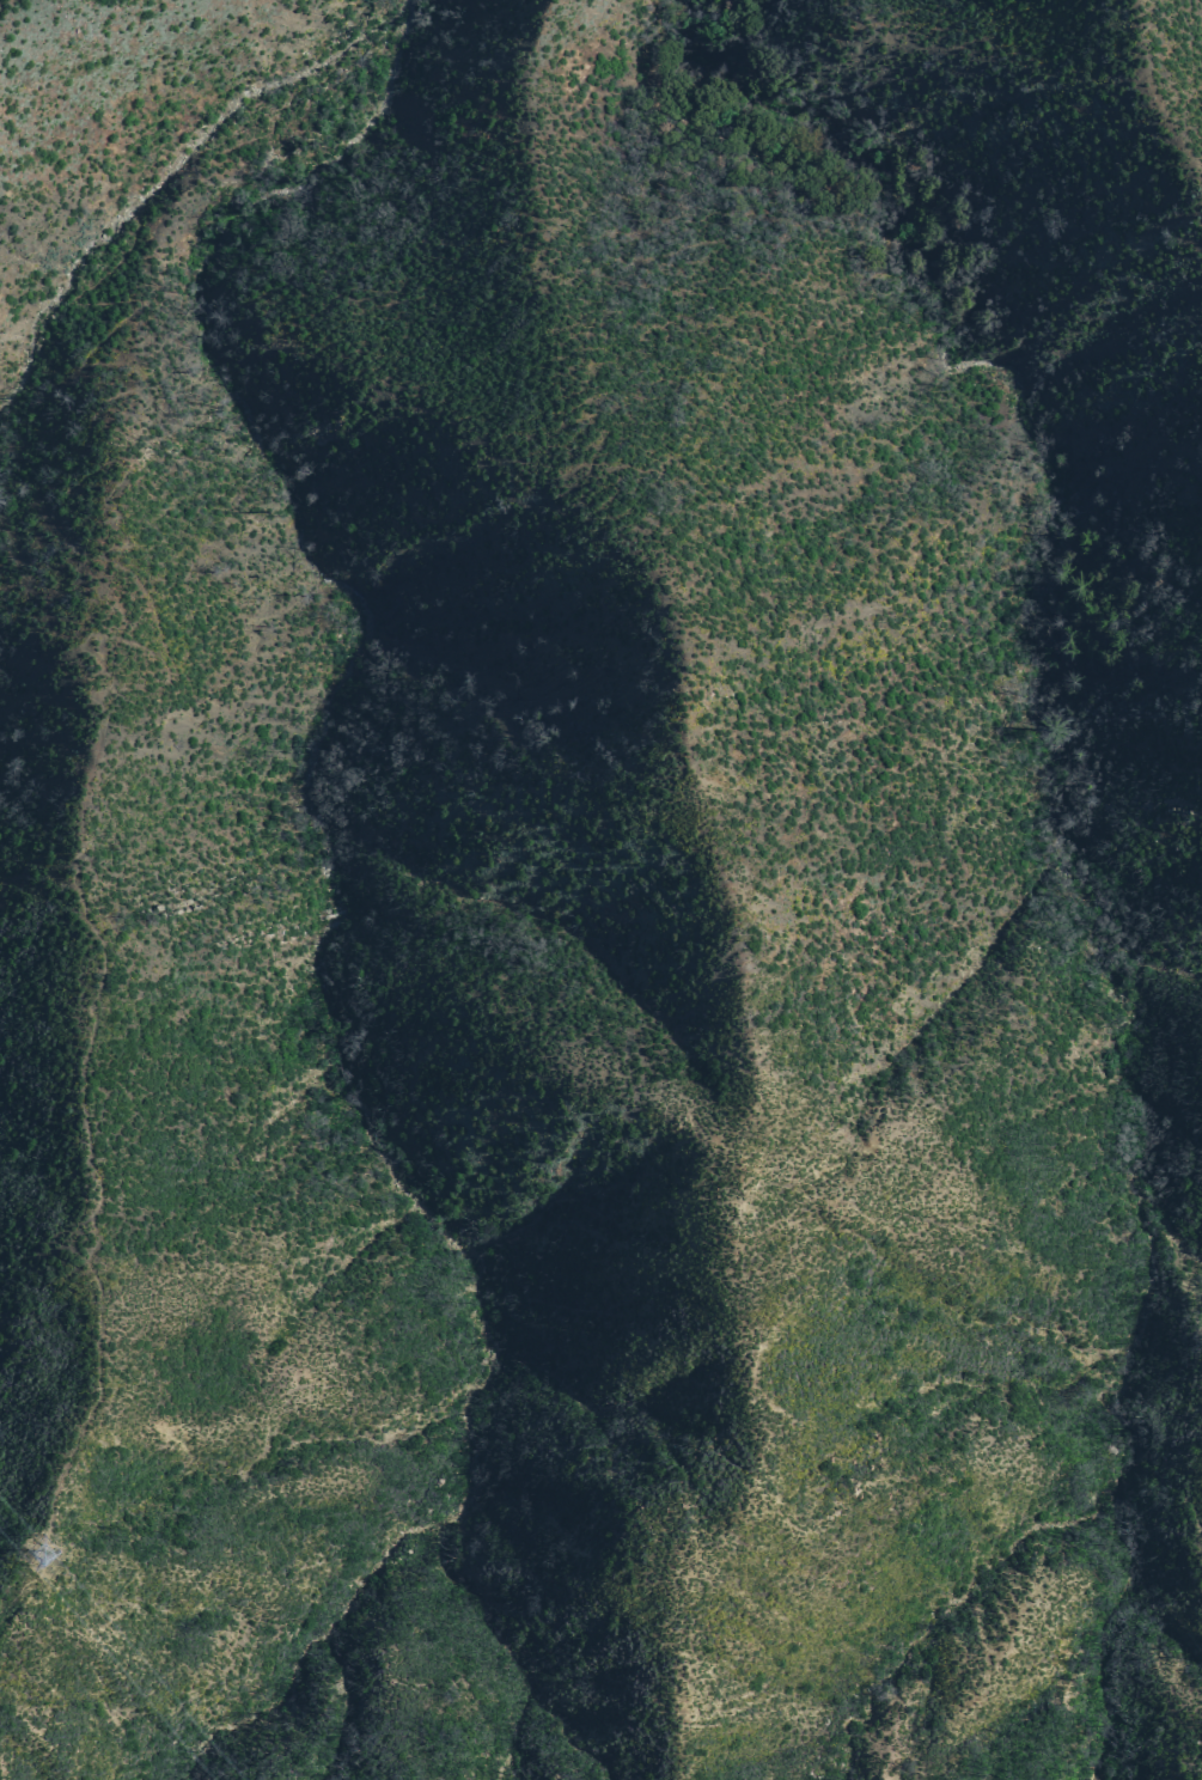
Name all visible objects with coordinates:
road: (230, 99)
road: (98, 730)
power tower: (35, 1553)

